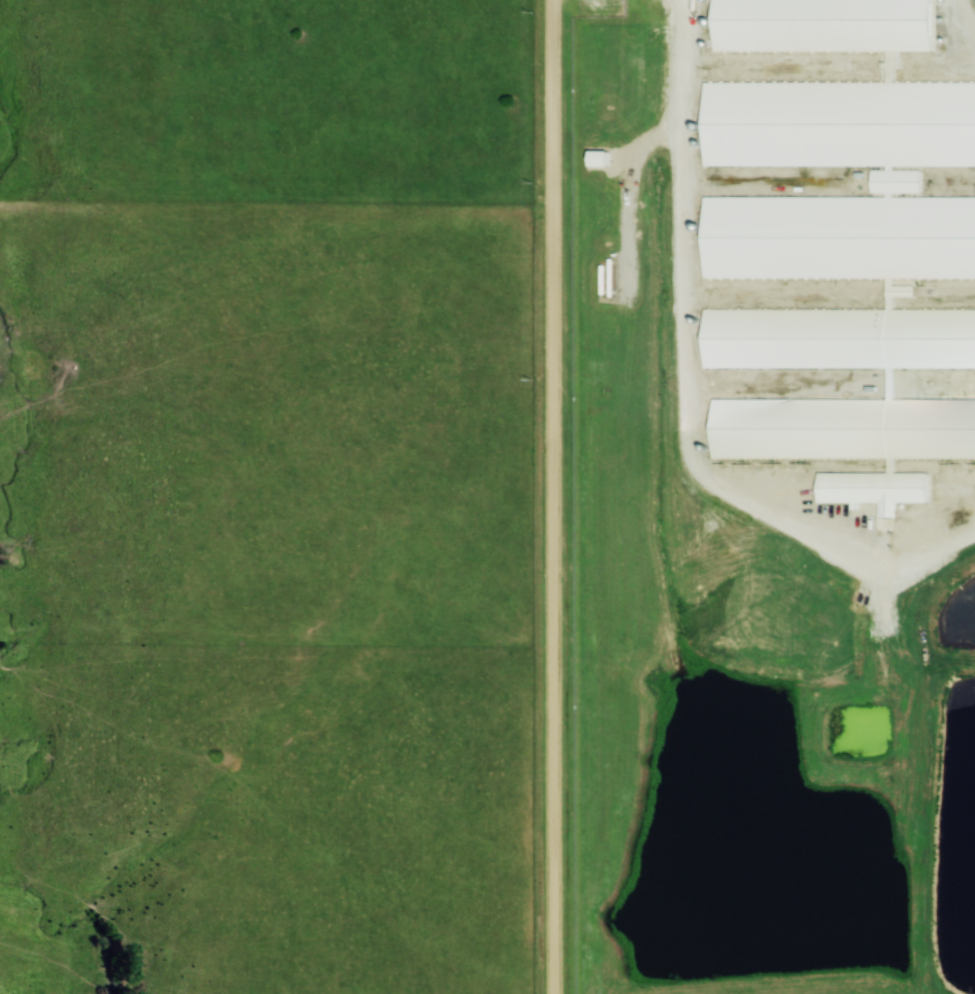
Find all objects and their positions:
road: (550, 496)

